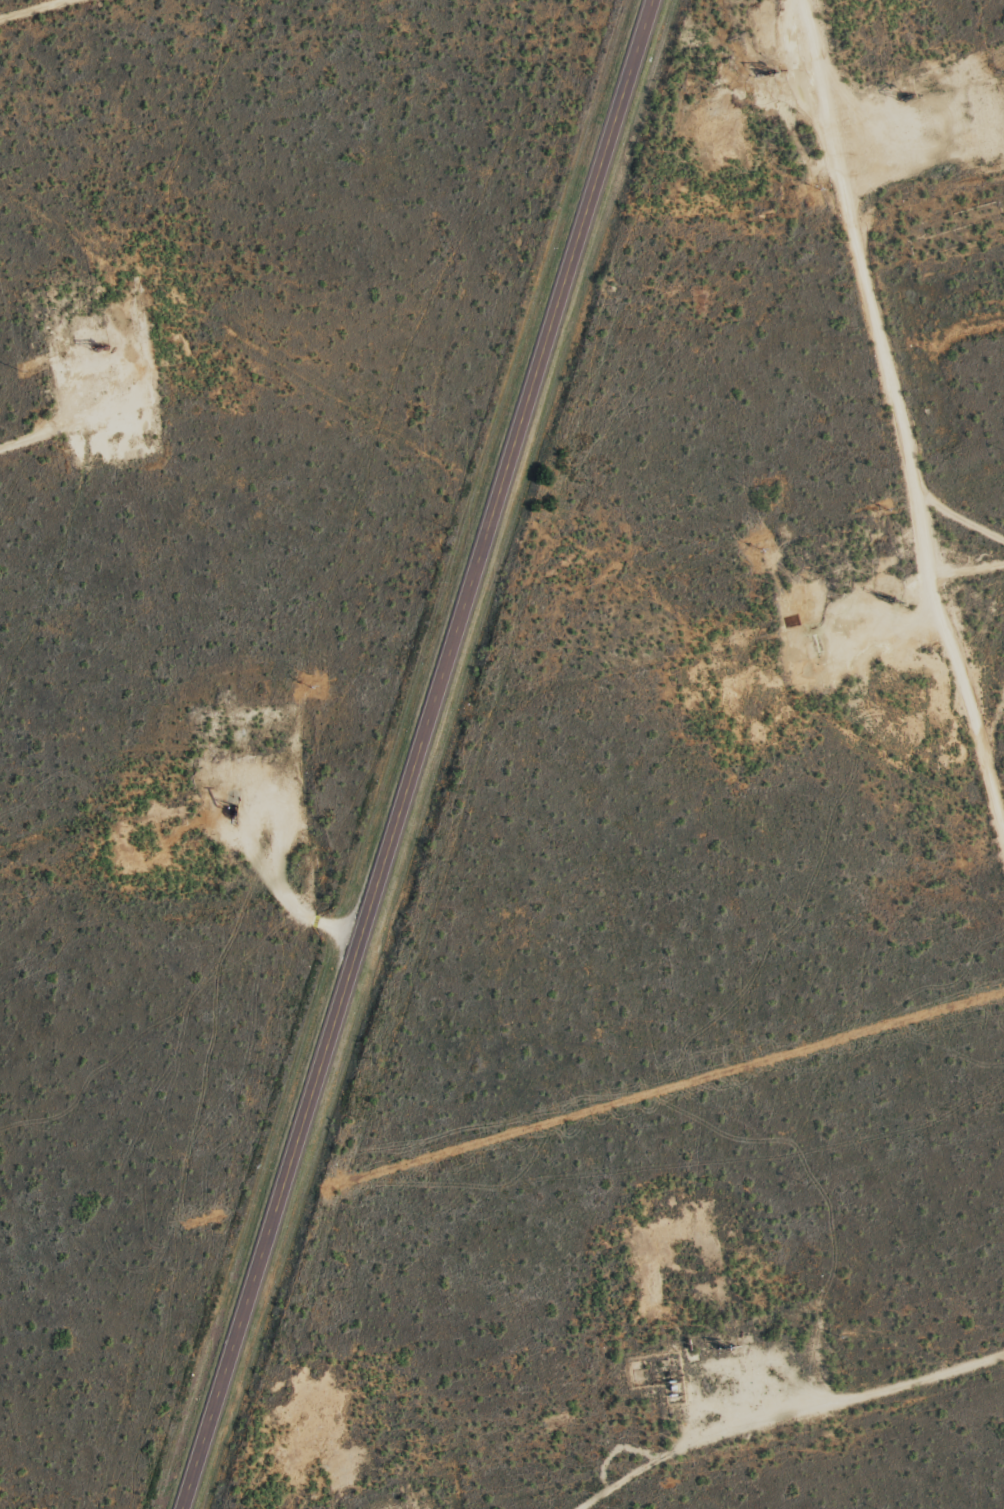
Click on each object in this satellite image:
road: (18, 5)
road: (415, 753)

